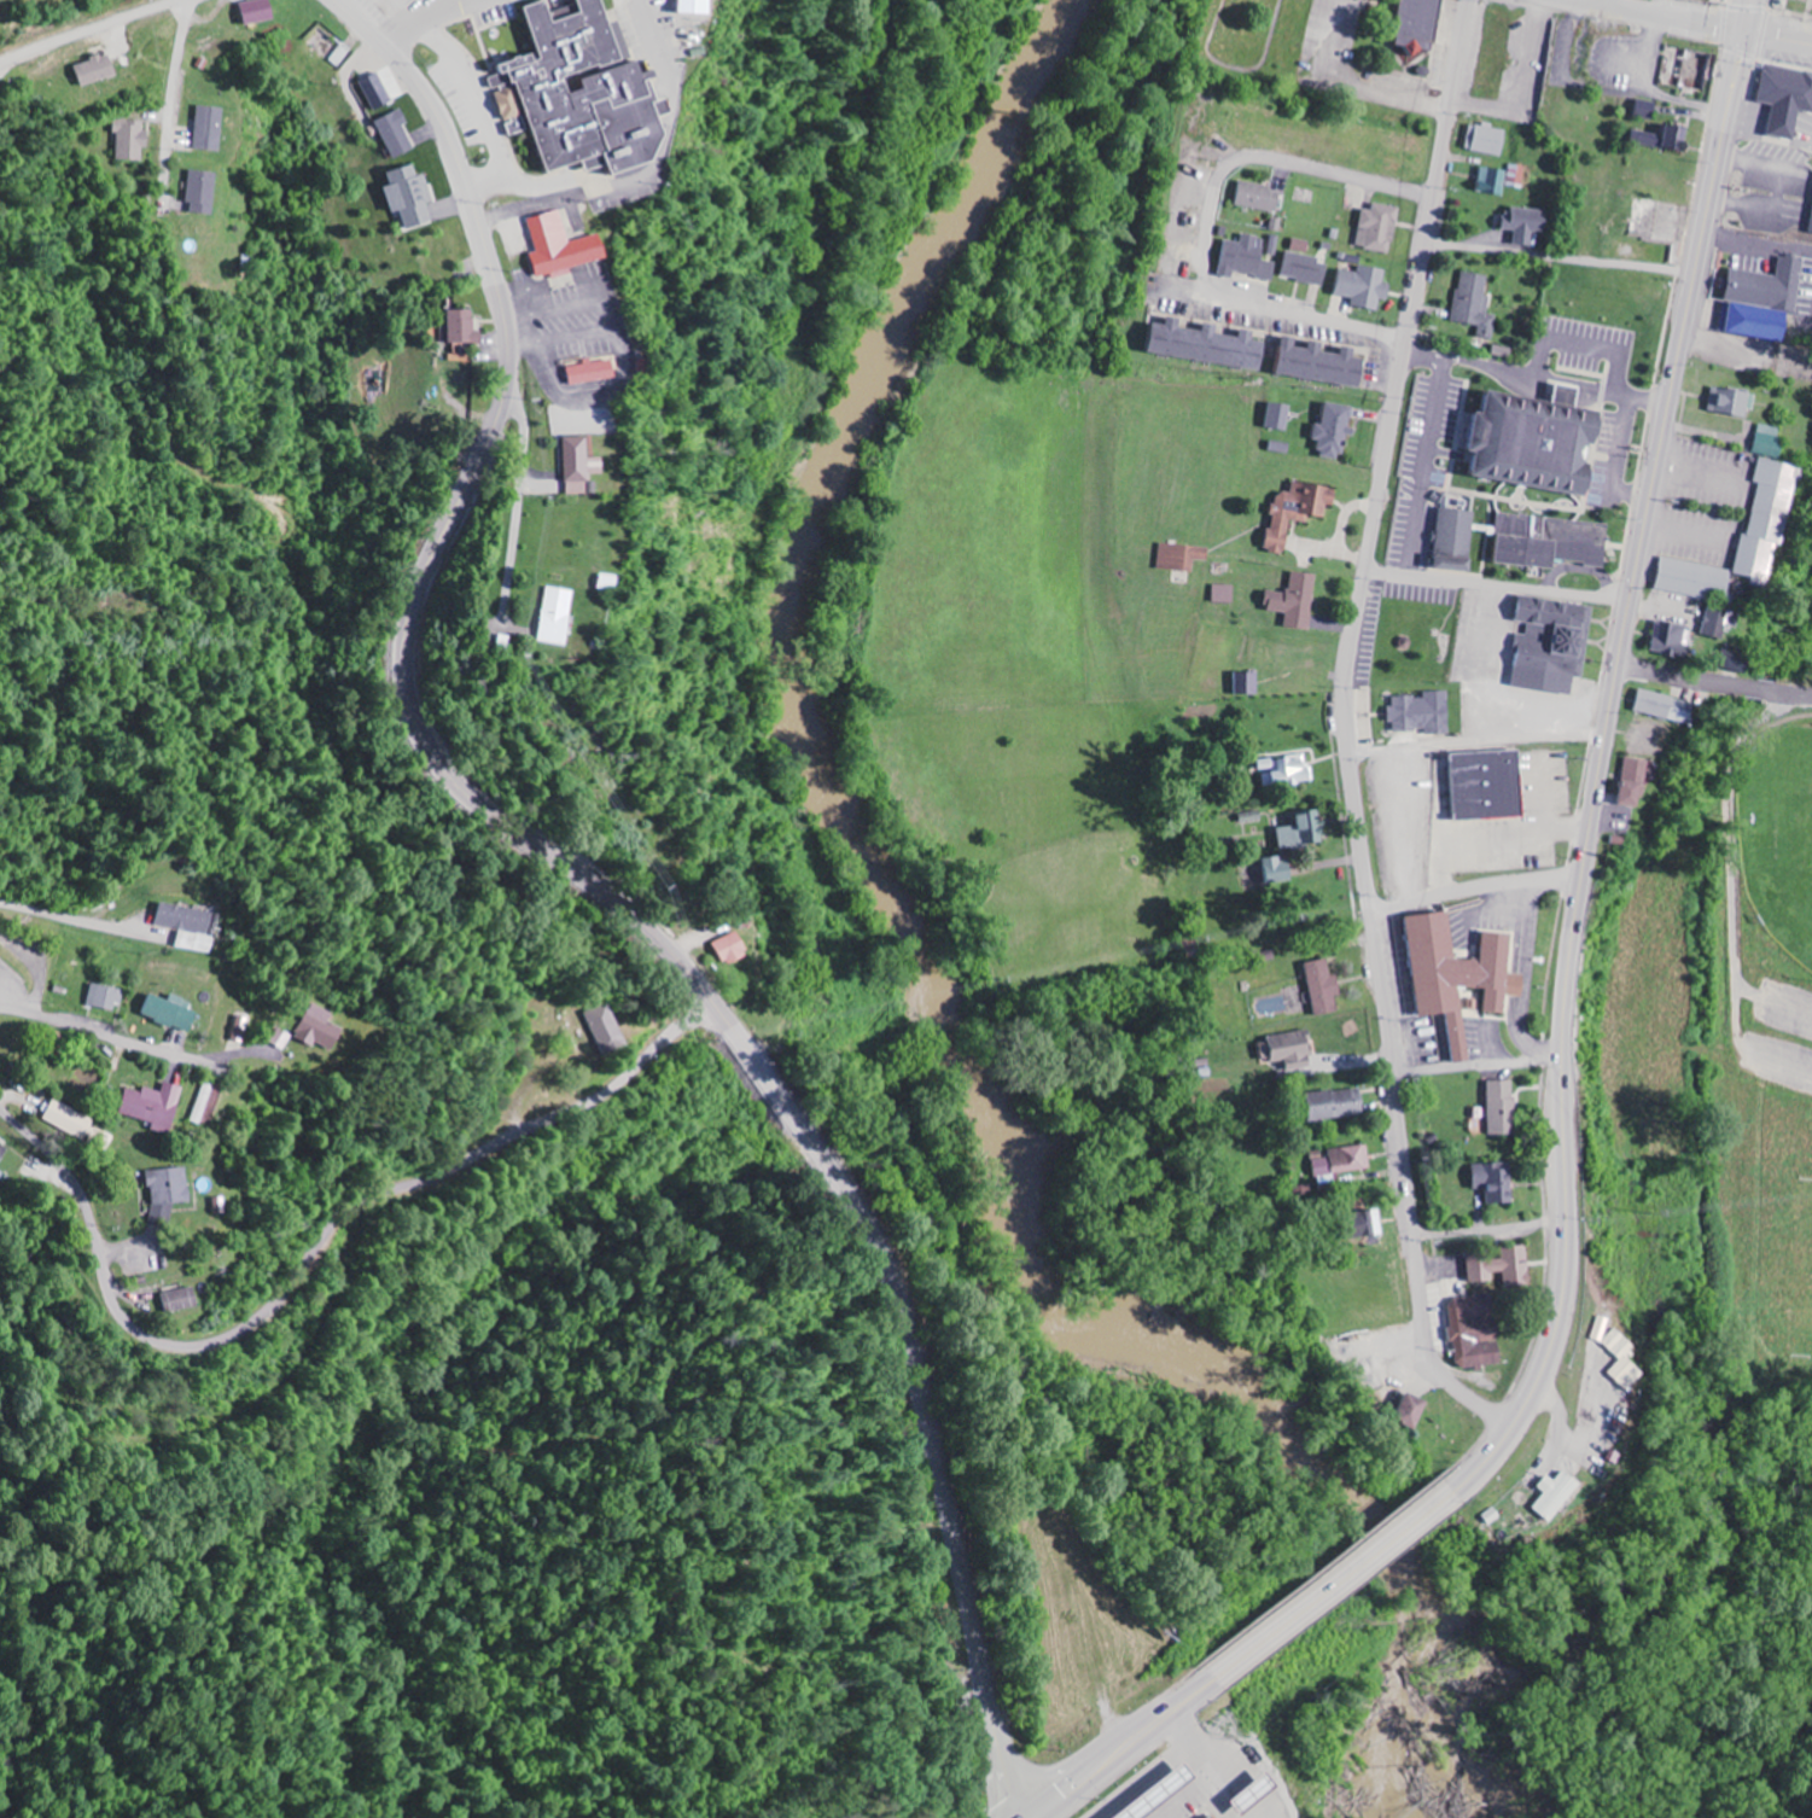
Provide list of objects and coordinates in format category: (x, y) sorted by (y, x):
road: (1608, 2)
building: (699, 7)
building: (261, 12)
road: (1656, 14)
road: (430, 19)
building: (1418, 22)
road: (89, 30)
road: (1776, 37)
road: (2, 69)
building: (98, 71)
building: (385, 89)
building: (575, 89)
road: (171, 99)
building: (1788, 99)
building: (1645, 110)
building: (209, 129)
building: (400, 134)
building: (132, 139)
building: (1666, 139)
building: (1488, 140)
road: (1265, 161)
parking lot: (1775, 167)
road: (647, 171)
building: (1501, 180)
building: (200, 193)
building: (413, 197)
building: (1262, 198)
building: (1528, 225)
building: (1381, 229)
building: (564, 246)
building: (1303, 247)
road: (1558, 263)
building: (1306, 269)
building: (1367, 287)
building: (1766, 302)
building: (1478, 304)
road: (1292, 314)
building: (466, 328)
building: (1211, 346)
building: (1323, 365)
building: (593, 373)
building: (1282, 416)
building: (1336, 430)
building: (1770, 441)
building: (1544, 443)
building: (578, 462)
road: (518, 485)
parking lot: (1703, 502)
building: (1301, 512)
building: (1769, 521)
building: (1183, 558)
building: (1697, 579)
road: (1498, 584)
building: (1225, 595)
building: (1299, 602)
building: (558, 617)
building: (1720, 623)
building: (1676, 641)
building: (1555, 646)
road: (1685, 678)
building: (1248, 684)
road: (1765, 689)
road: (1793, 694)
building: (1668, 709)
building: (1424, 715)
road: (1346, 729)
road: (1475, 739)
road: (1601, 754)
building: (1293, 775)
building: (1636, 783)
building: (1487, 786)
building: (1307, 834)
park: (1779, 835)
building: (1282, 872)
road: (596, 886)
road: (1475, 887)
road: (1732, 896)
building: (188, 926)
building: (1, 944)
building: (733, 948)
building: (1453, 979)
river: (936, 980)
building: (1326, 989)
building: (107, 997)
building: (174, 1012)
building: (243, 1029)
building: (320, 1029)
building: (604, 1030)
road: (109, 1036)
parking lot: (1777, 1036)
building: (282, 1038)
building: (1290, 1051)
park: (1720, 1059)
road: (1476, 1068)
building: (1338, 1103)
building: (156, 1105)
building: (204, 1105)
building: (1503, 1109)
building: (71, 1120)
building: (4, 1152)
building: (1345, 1161)
building: (1497, 1182)
building: (170, 1191)
building: (1375, 1223)
road: (1488, 1231)
road: (310, 1252)
building: (1503, 1266)
building: (180, 1300)
building: (1475, 1334)
building: (1620, 1358)
building: (1415, 1411)
road: (1555, 1432)
building: (1557, 1494)
road: (1335, 1581)
road: (1124, 1747)

